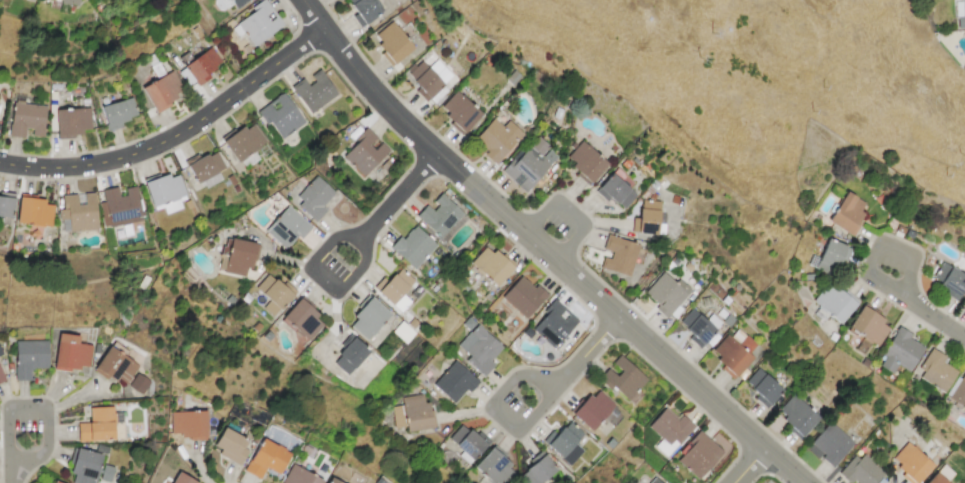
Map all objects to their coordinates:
building: (70, 2)
building: (236, 3)
building: (365, 9)
building: (959, 13)
building: (259, 22)
building: (392, 42)
building: (202, 66)
building: (424, 79)
building: (162, 91)
building: (313, 92)
building: (459, 111)
building: (117, 113)
building: (281, 116)
building: (26, 120)
building: (71, 122)
road: (173, 135)
building: (496, 138)
building: (244, 142)
building: (364, 152)
building: (585, 161)
building: (530, 164)
building: (205, 167)
building: (617, 189)
building: (165, 193)
building: (313, 197)
road: (398, 198)
building: (6, 204)
building: (121, 205)
building: (33, 211)
road: (567, 211)
building: (78, 212)
building: (848, 213)
building: (438, 215)
building: (650, 218)
building: (286, 228)
road: (882, 241)
building: (412, 247)
road: (536, 252)
building: (619, 255)
building: (831, 256)
building: (236, 257)
building: (491, 265)
building: (950, 279)
road: (322, 280)
building: (395, 287)
building: (273, 293)
building: (666, 294)
building: (523, 296)
building: (833, 302)
road: (934, 317)
building: (302, 318)
building: (368, 318)
building: (553, 324)
building: (700, 326)
building: (868, 326)
building: (479, 349)
building: (733, 351)
building: (900, 351)
building: (71, 352)
road: (590, 354)
building: (350, 356)
building: (29, 357)
building: (115, 364)
building: (936, 371)
building: (1, 377)
building: (623, 379)
building: (454, 382)
building: (138, 383)
building: (762, 386)
building: (959, 392)
road: (39, 406)
building: (593, 409)
road: (495, 411)
building: (416, 413)
building: (797, 414)
building: (97, 424)
building: (187, 424)
building: (669, 430)
building: (467, 443)
building: (566, 443)
building: (830, 443)
building: (230, 445)
building: (698, 455)
building: (266, 458)
building: (911, 463)
building: (84, 466)
building: (495, 467)
road: (747, 467)
building: (537, 469)
building: (860, 470)
building: (940, 475)
building: (299, 476)
road: (10, 478)
building: (182, 478)
building: (333, 480)
building: (654, 481)
building: (54, 482)

